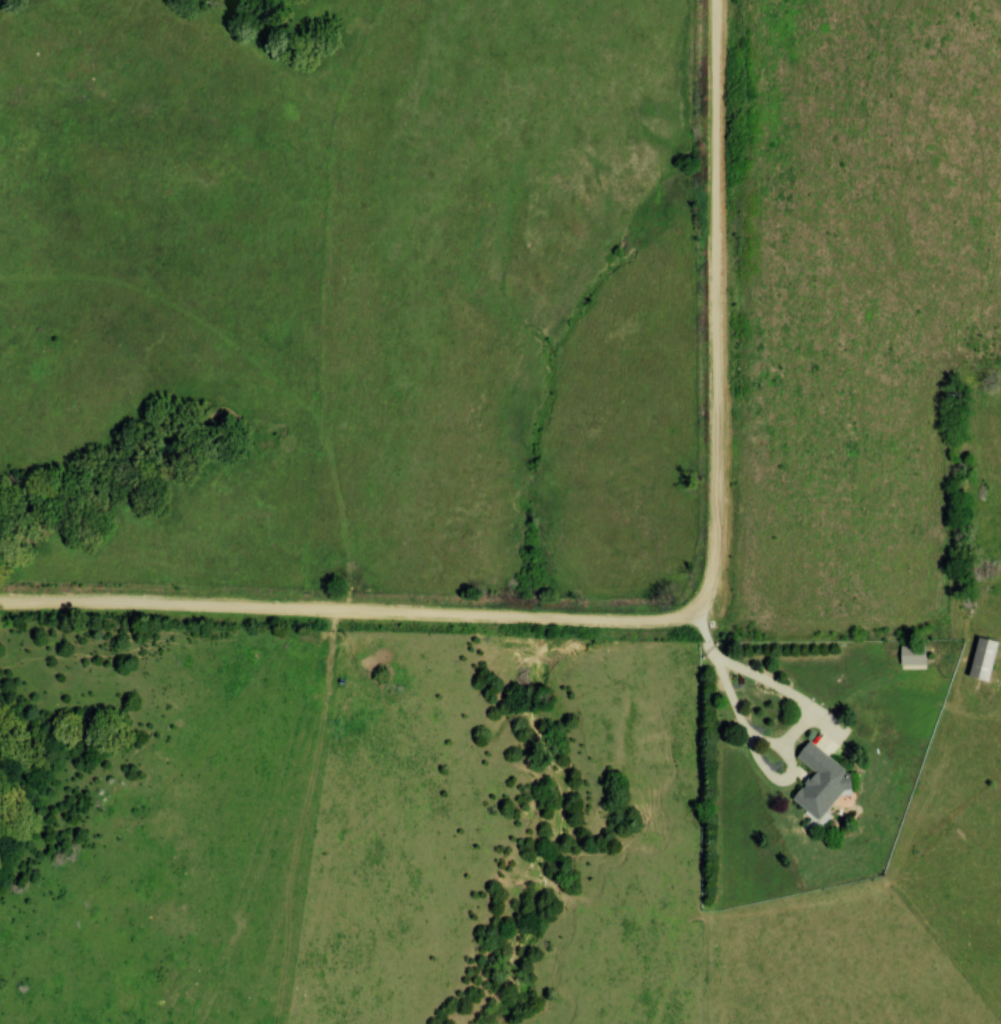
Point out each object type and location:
road: (657, 624)
building: (915, 657)
building: (986, 658)
building: (823, 782)

